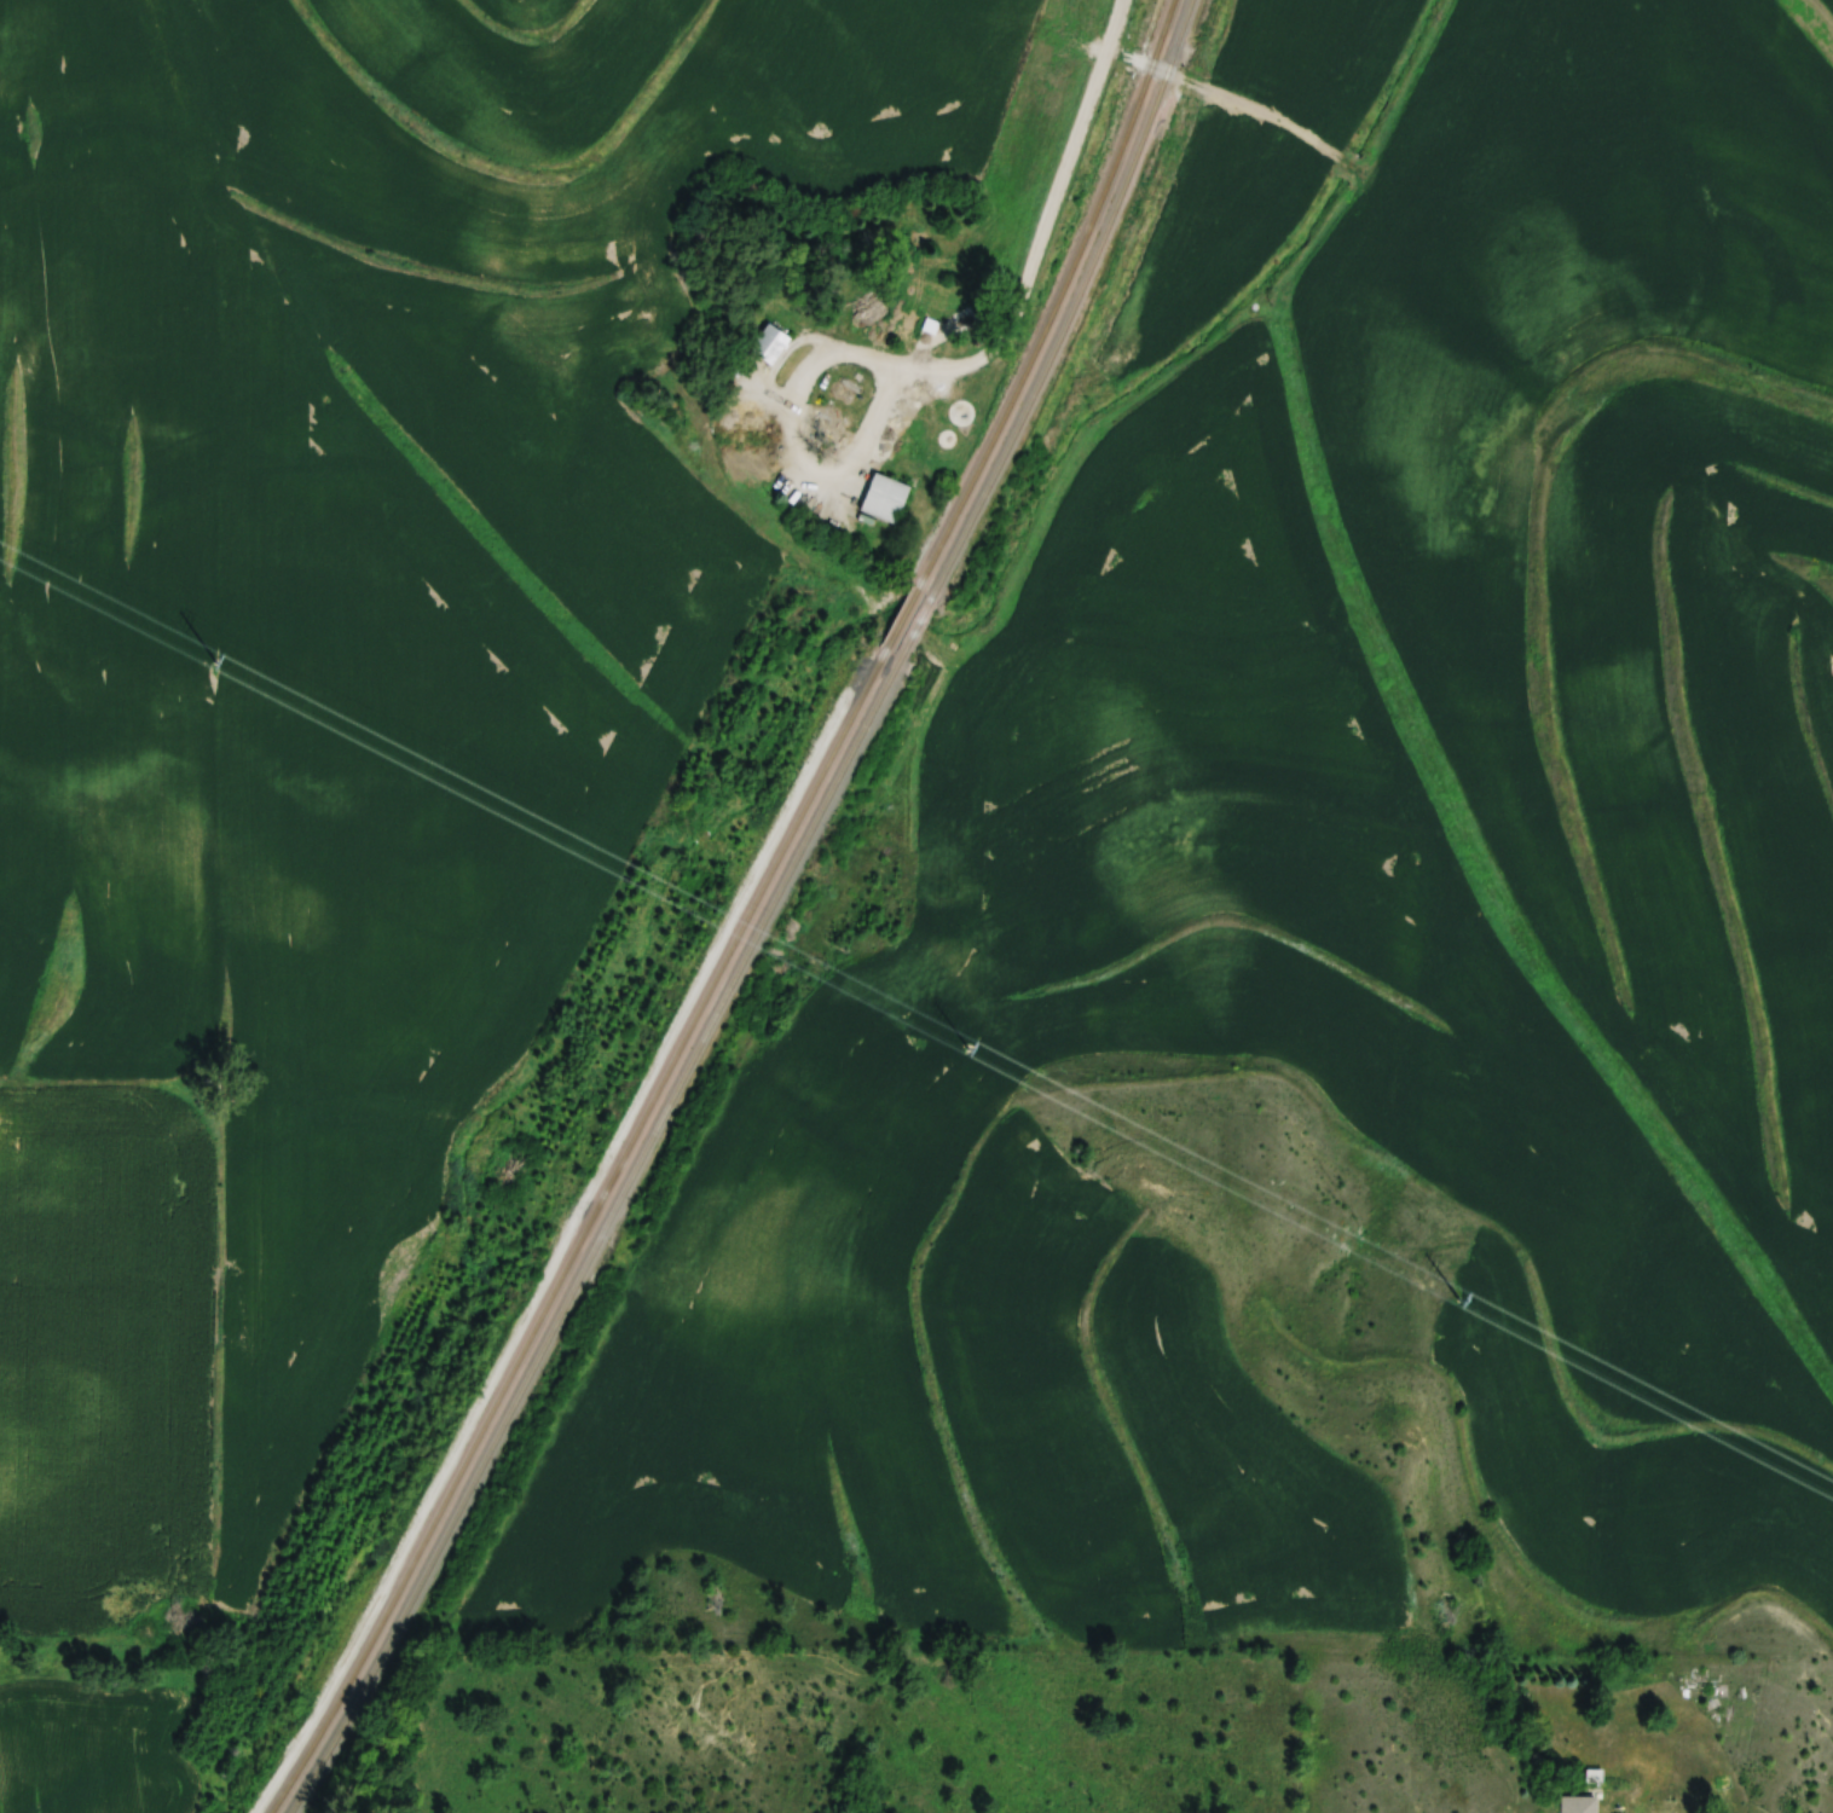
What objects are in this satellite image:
road: (1242, 106)
road: (1059, 222)
building: (925, 303)
building: (762, 332)
building: (770, 344)
building: (844, 390)
building: (961, 413)
building: (746, 422)
road: (799, 474)
building: (879, 491)
power tower: (219, 664)
railway: (761, 919)
railway: (741, 920)
power tower: (971, 1049)
power tower: (1467, 1301)
building: (1578, 1803)

